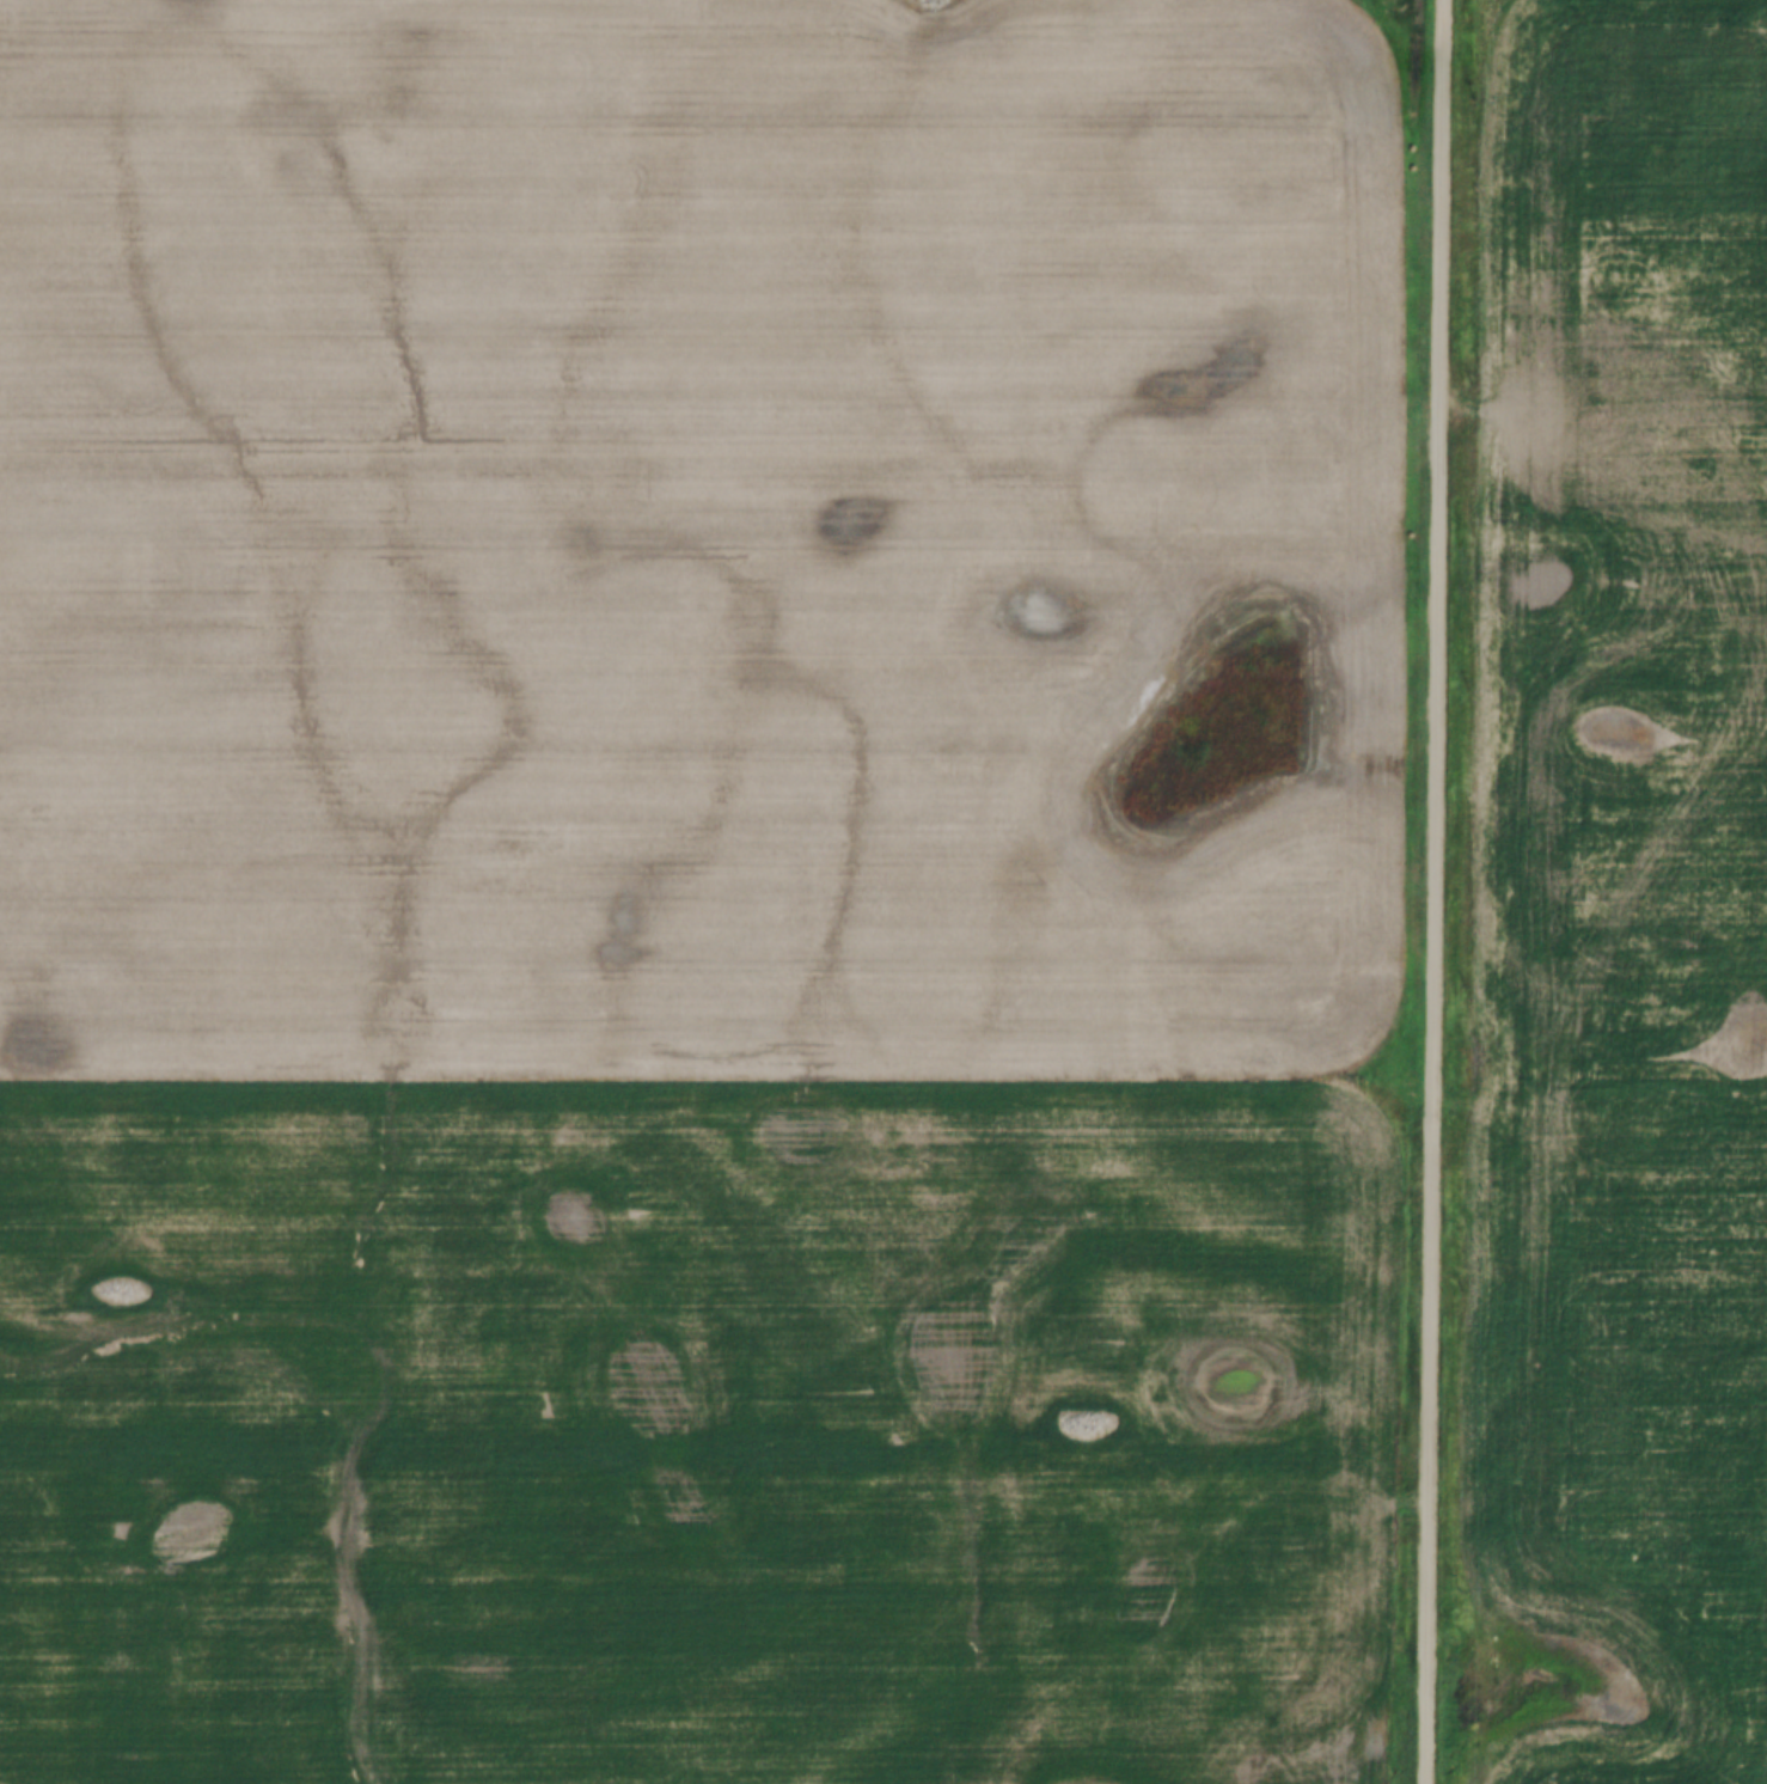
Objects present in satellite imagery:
road: (1437, 891)

